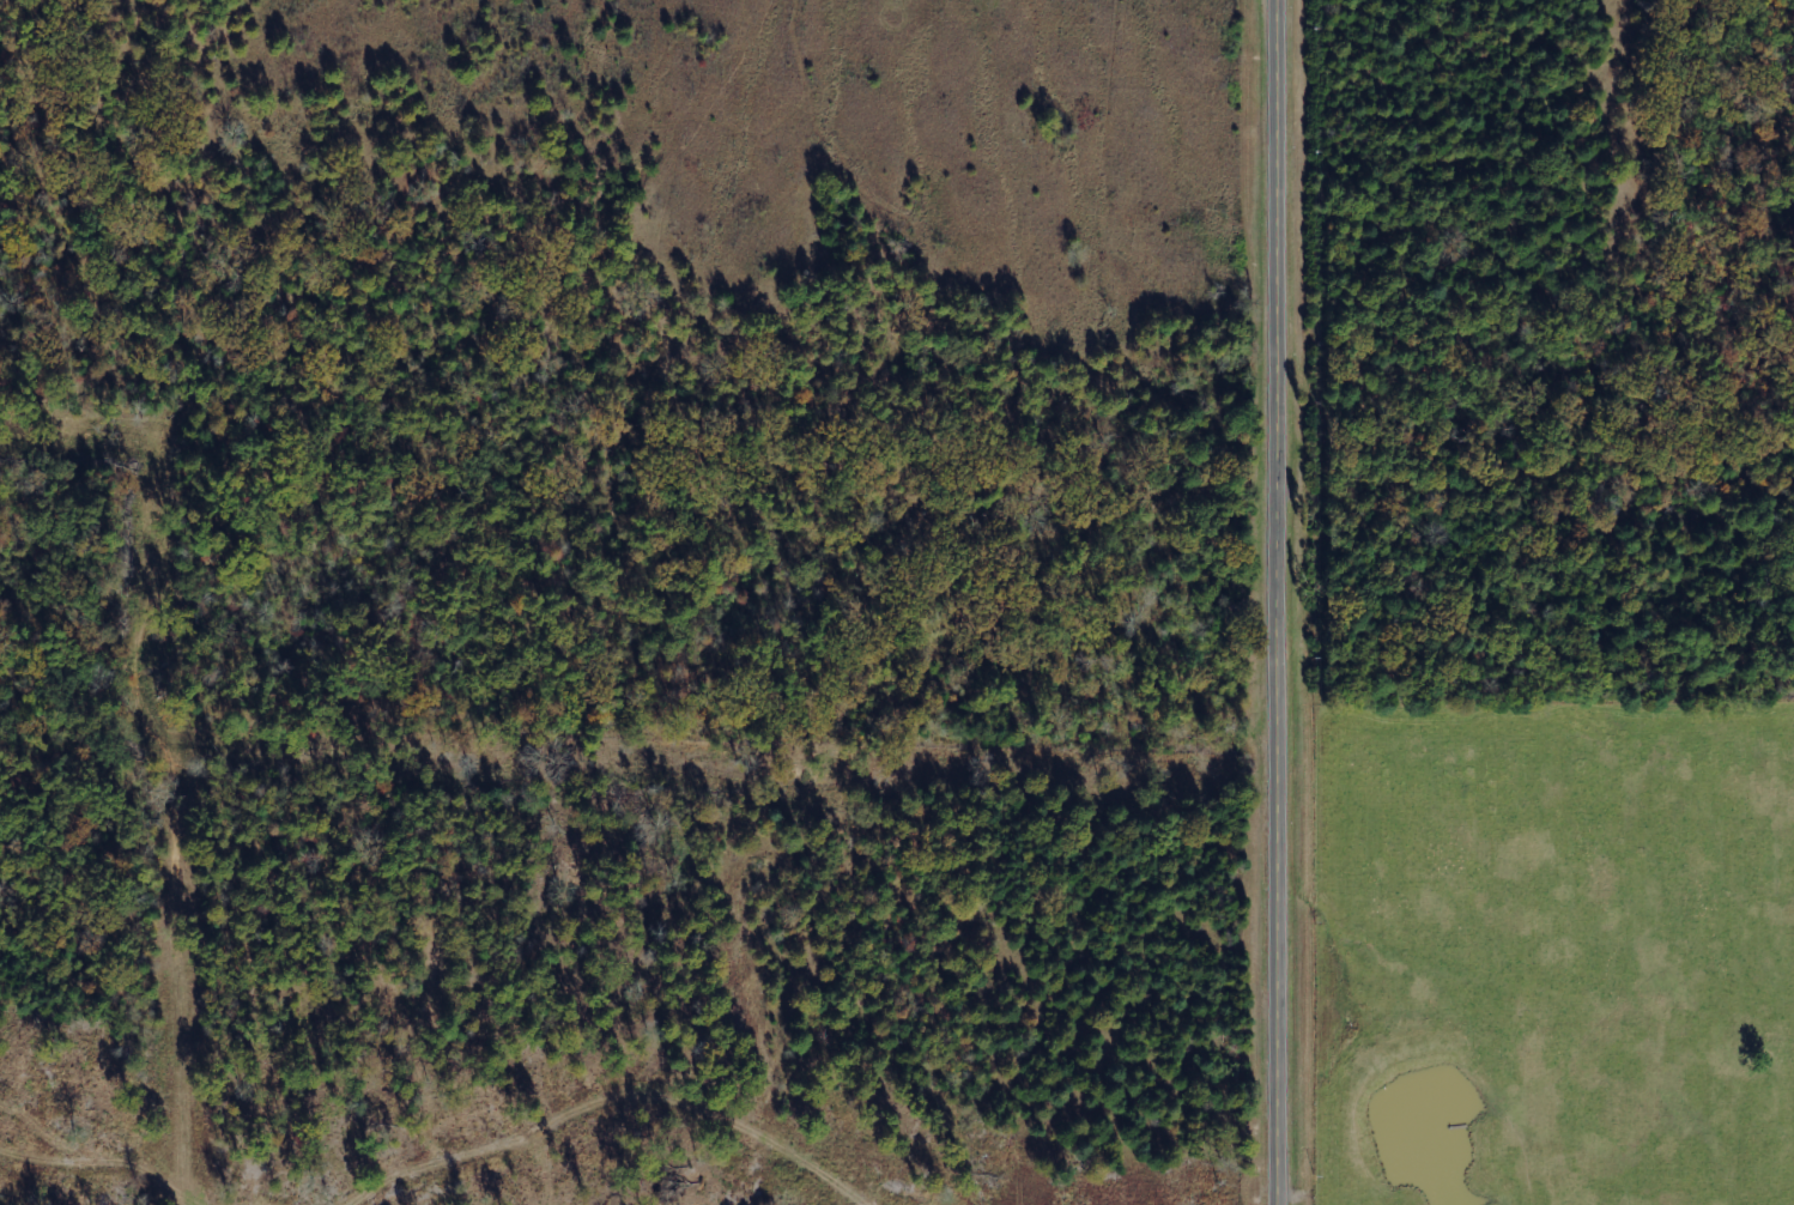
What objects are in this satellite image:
road: (1268, 602)

